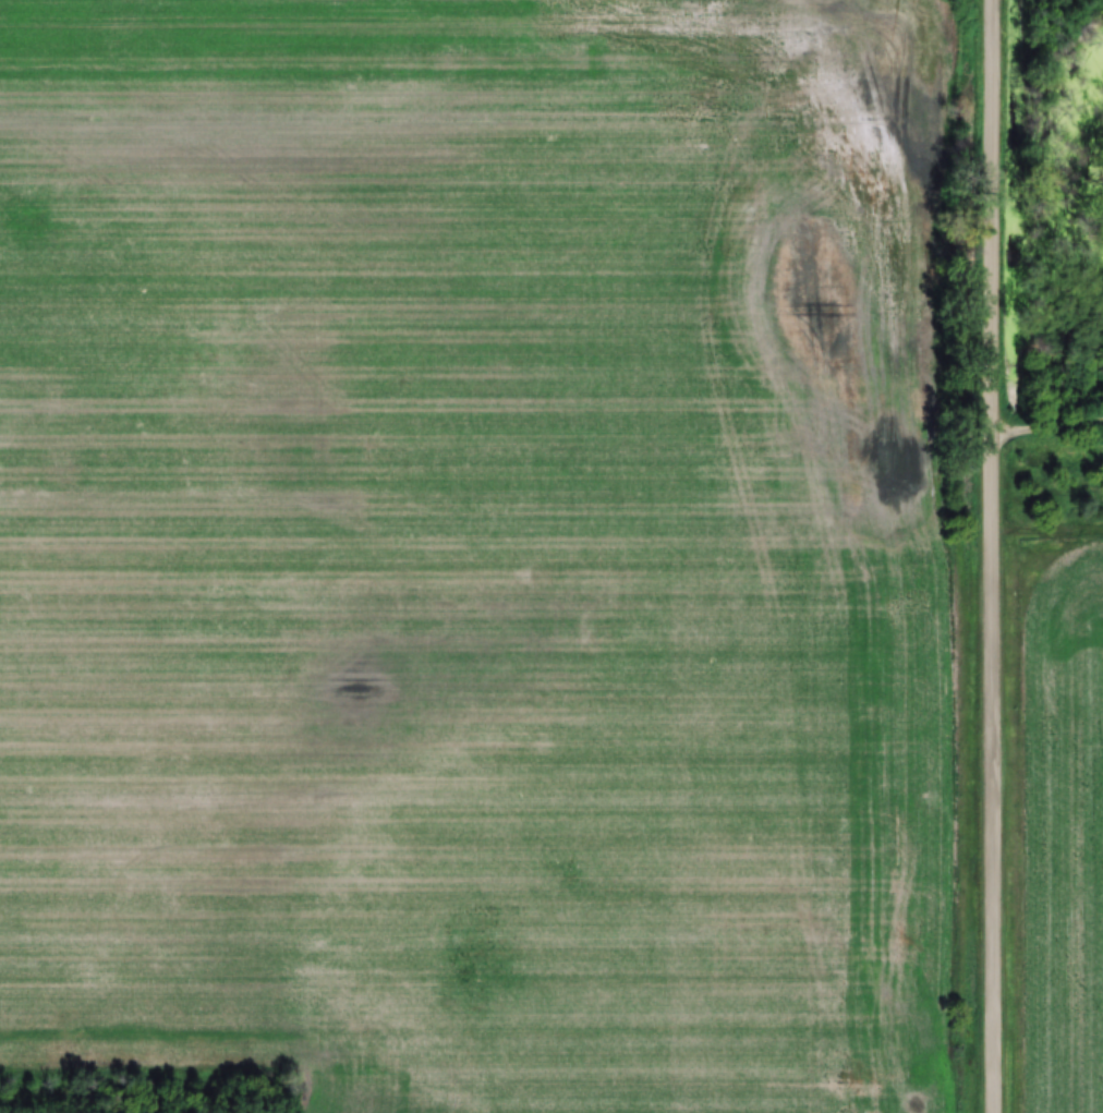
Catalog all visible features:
road: (992, 556)

